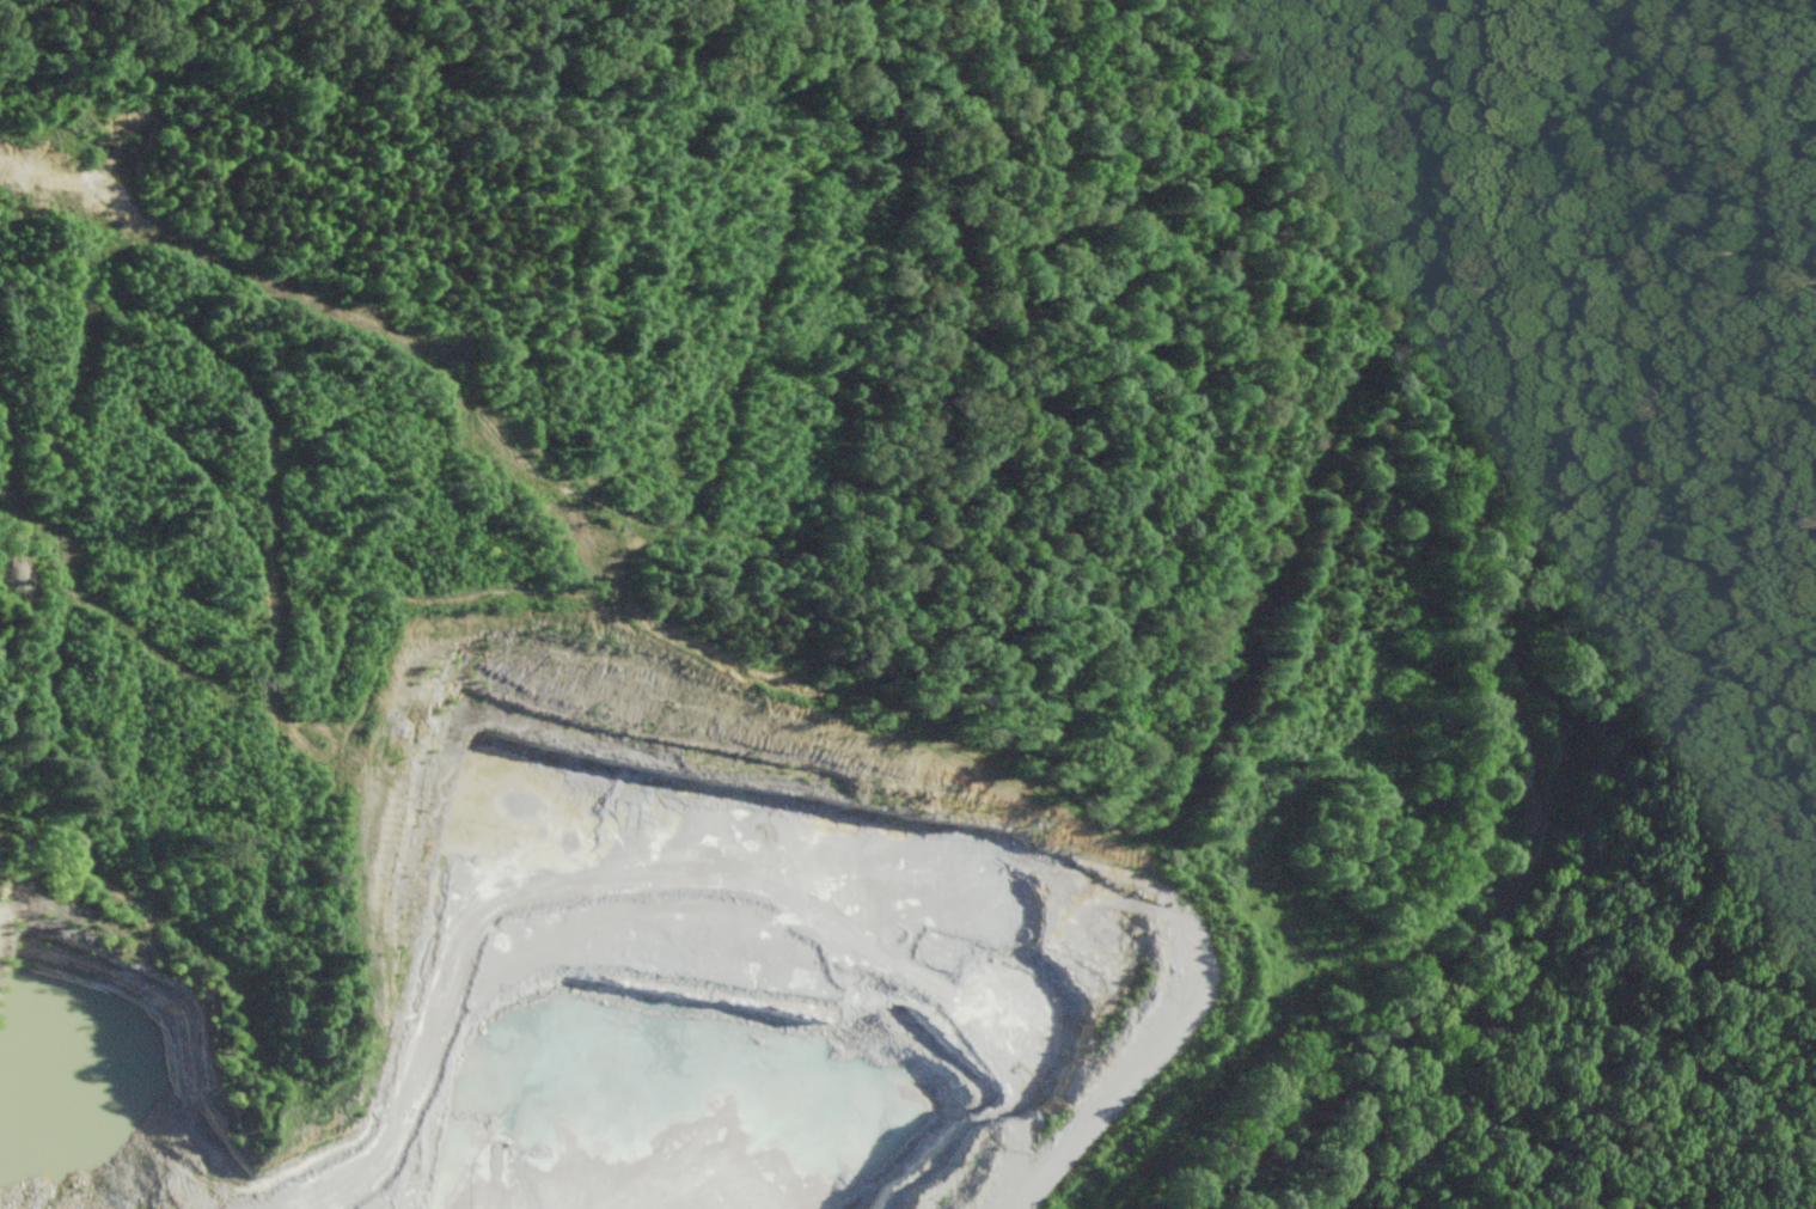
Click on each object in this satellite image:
road: (1638, 649)

